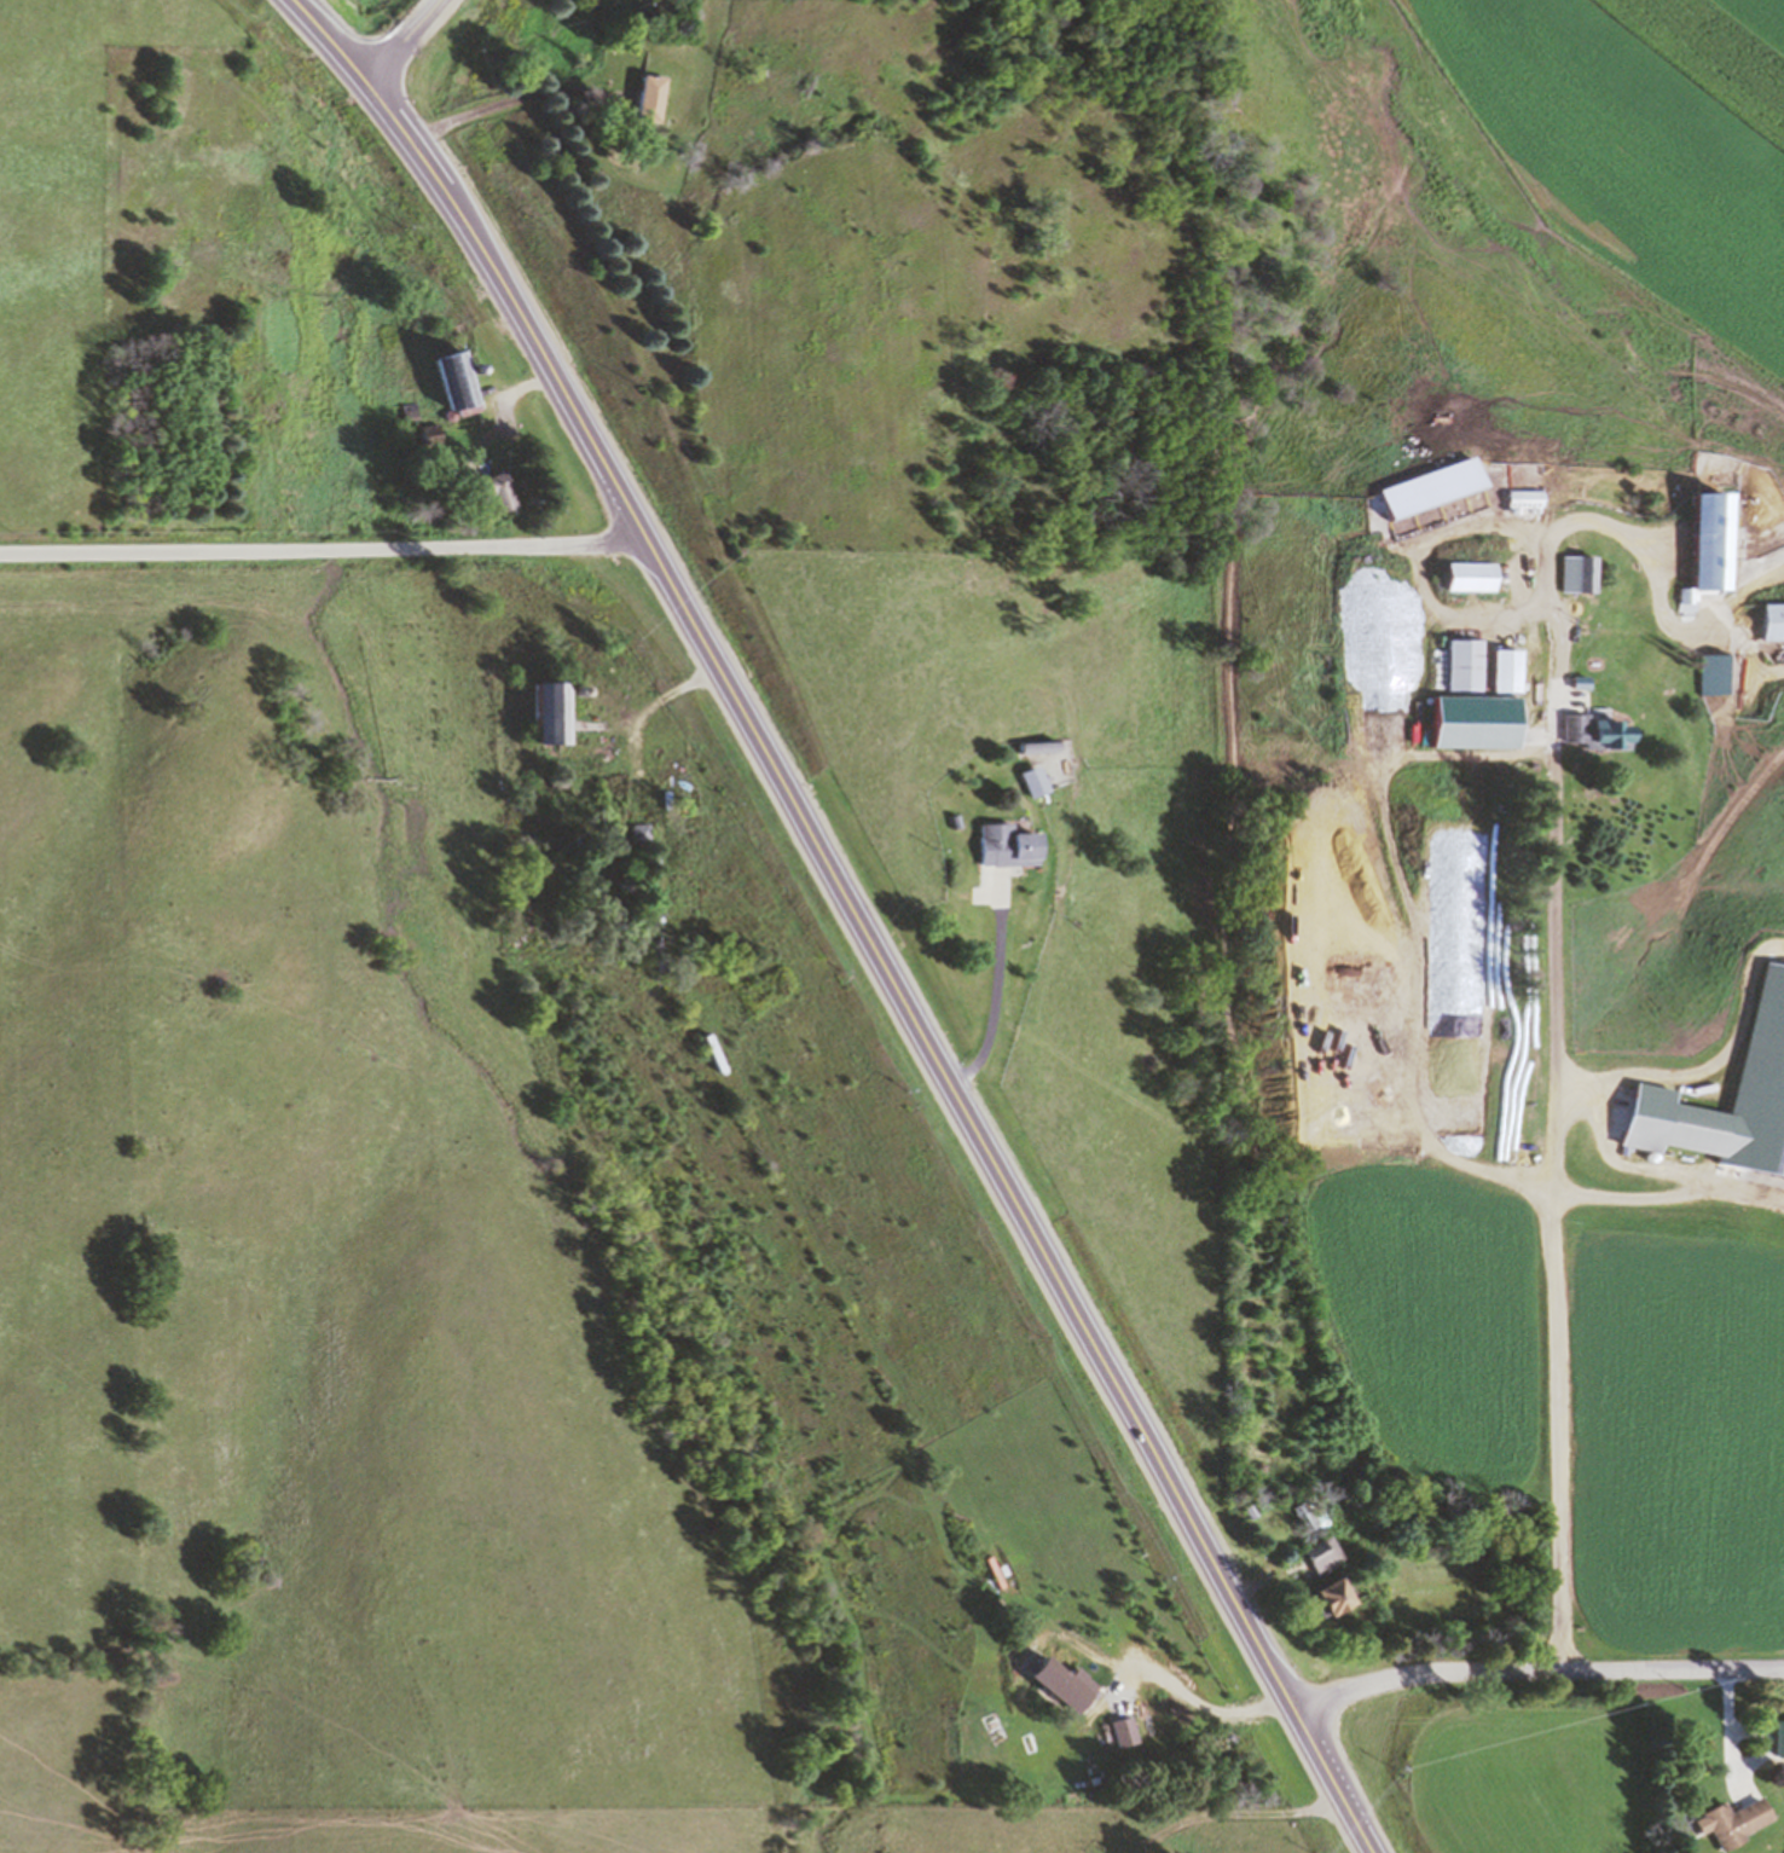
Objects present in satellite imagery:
road: (398, 37)
building: (650, 94)
road: (519, 99)
building: (456, 383)
road: (505, 400)
building: (409, 412)
building: (428, 435)
building: (1431, 486)
building: (494, 490)
building: (1710, 546)
road: (324, 549)
building: (1581, 572)
building: (1470, 575)
road: (1749, 595)
road: (1483, 614)
building: (1774, 620)
road: (1403, 642)
building: (1464, 662)
building: (1506, 670)
building: (1716, 673)
building: (1582, 682)
road: (658, 699)
building: (549, 711)
building: (1598, 732)
building: (1036, 745)
building: (1032, 780)
building: (556, 781)
building: (954, 822)
building: (639, 832)
building: (1006, 845)
building: (511, 913)
road: (852, 913)
road: (1552, 980)
road: (996, 988)
building: (1323, 1556)
building: (1334, 1597)
road: (1536, 1668)
road: (1726, 1733)
building: (1779, 1737)
building: (1732, 1820)

